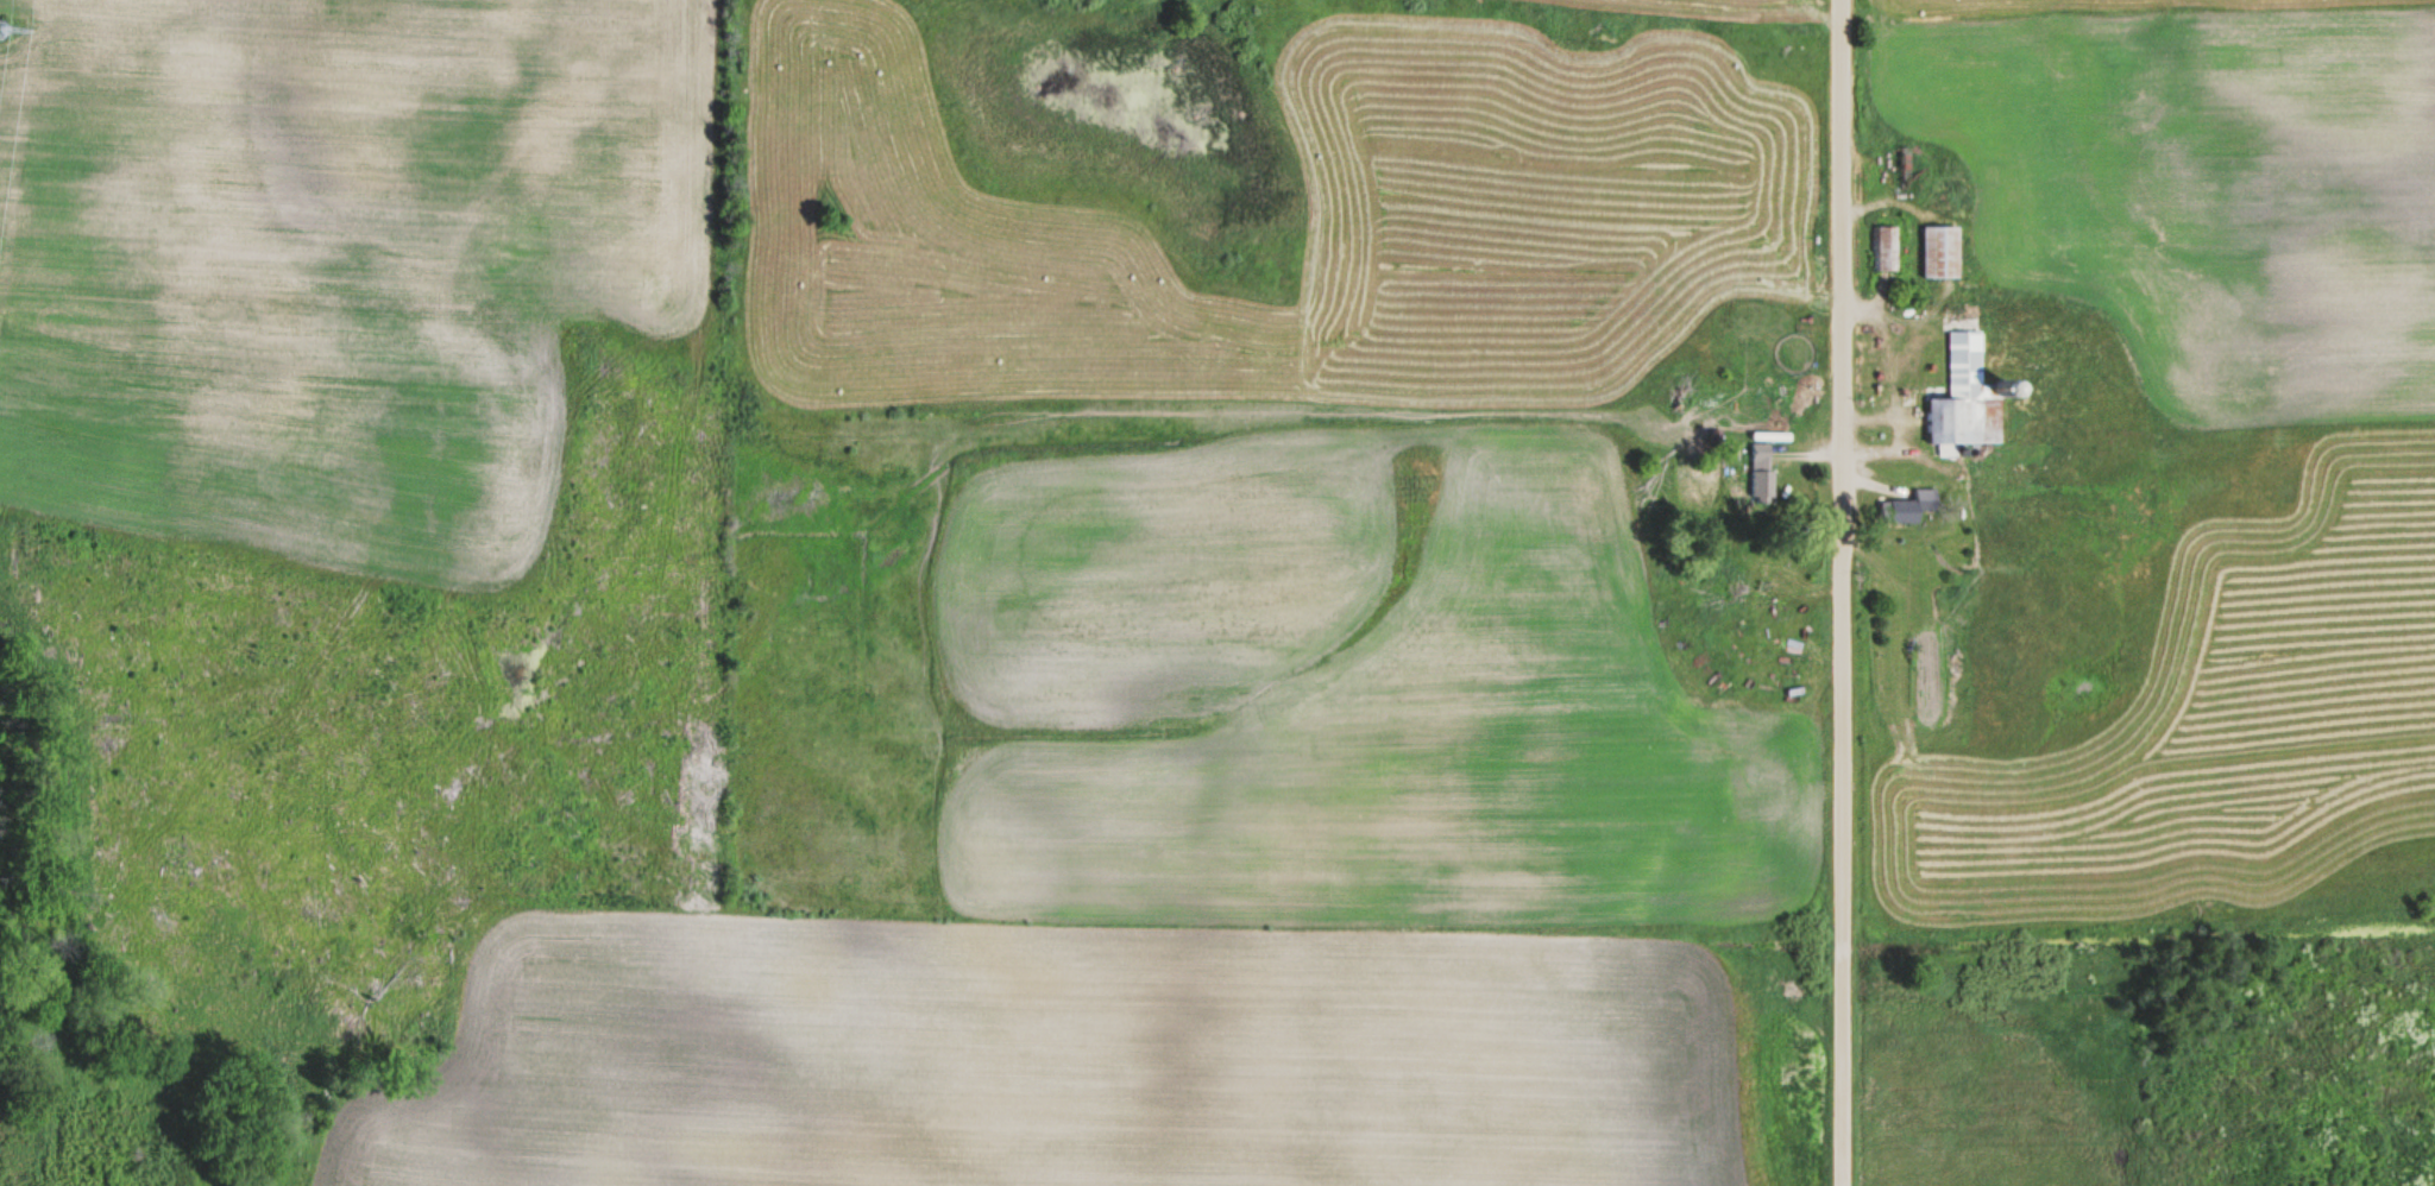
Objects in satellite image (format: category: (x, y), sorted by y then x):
building: (1885, 248)
building: (1943, 251)
building: (1967, 397)
building: (1762, 487)
building: (1908, 506)
road: (1830, 593)

